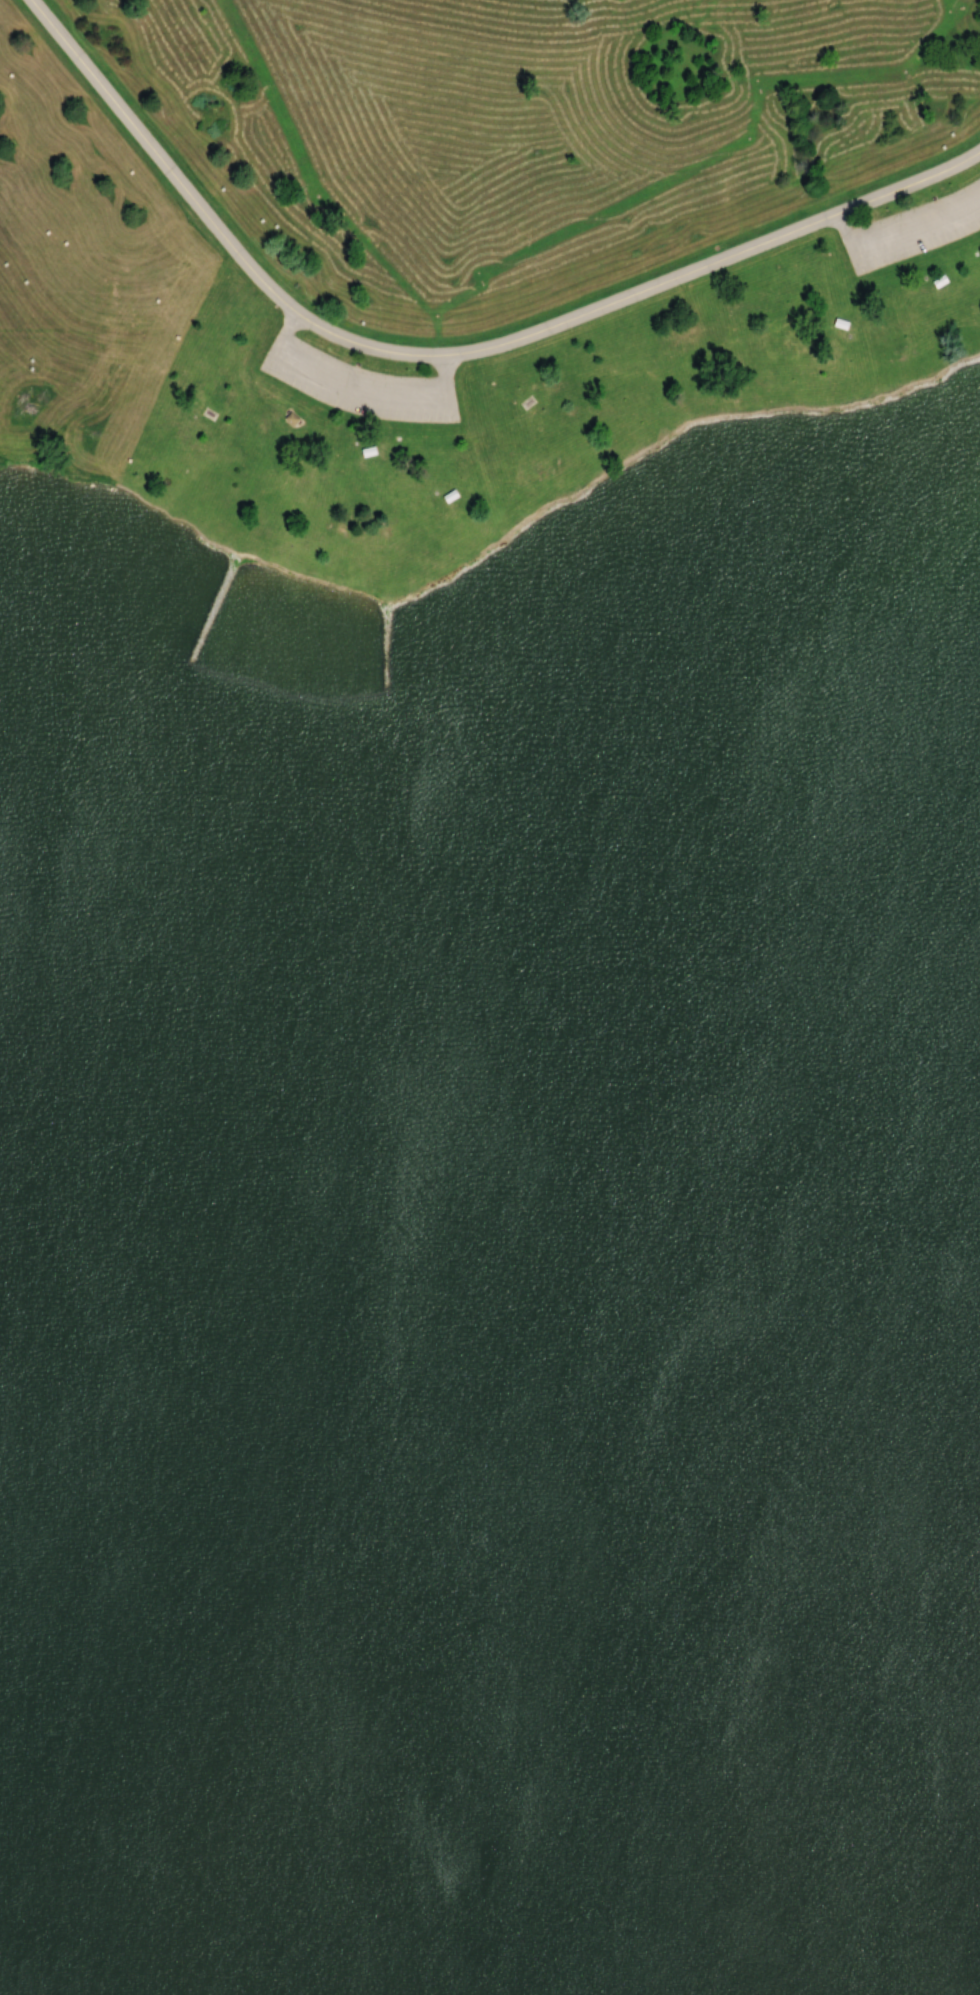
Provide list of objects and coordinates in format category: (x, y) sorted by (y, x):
road: (902, 218)
road: (448, 356)
road: (354, 376)
road: (424, 555)
park: (490, 997)
river: (490, 1563)

